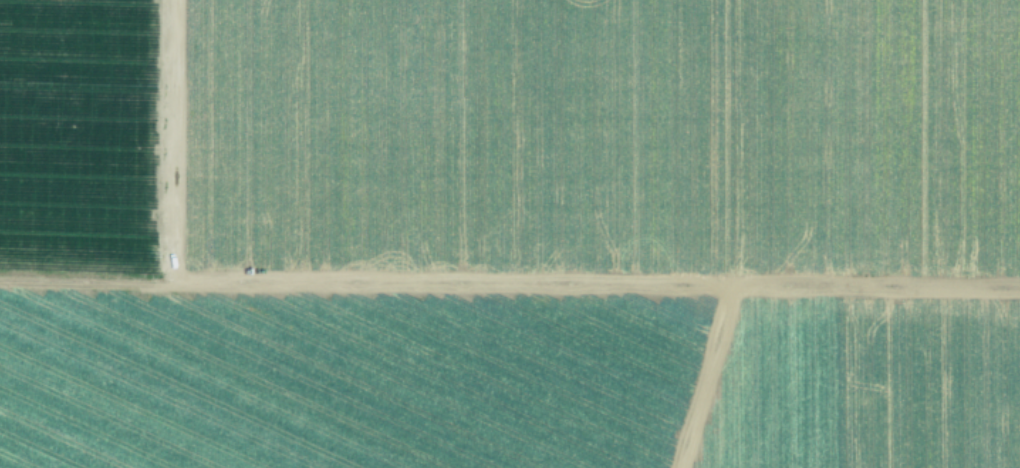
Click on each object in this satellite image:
crop: (510, 234)

